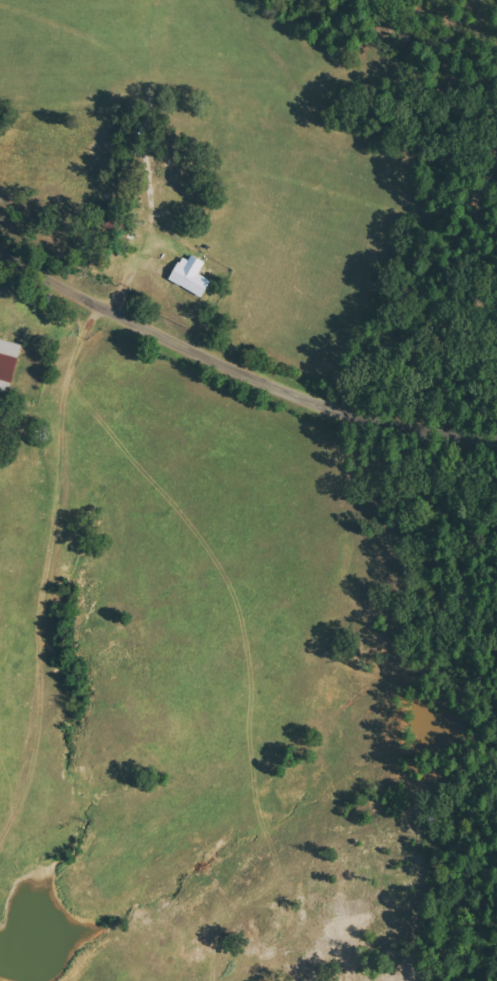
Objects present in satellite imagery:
building: (194, 279)
building: (10, 364)
road: (240, 373)

